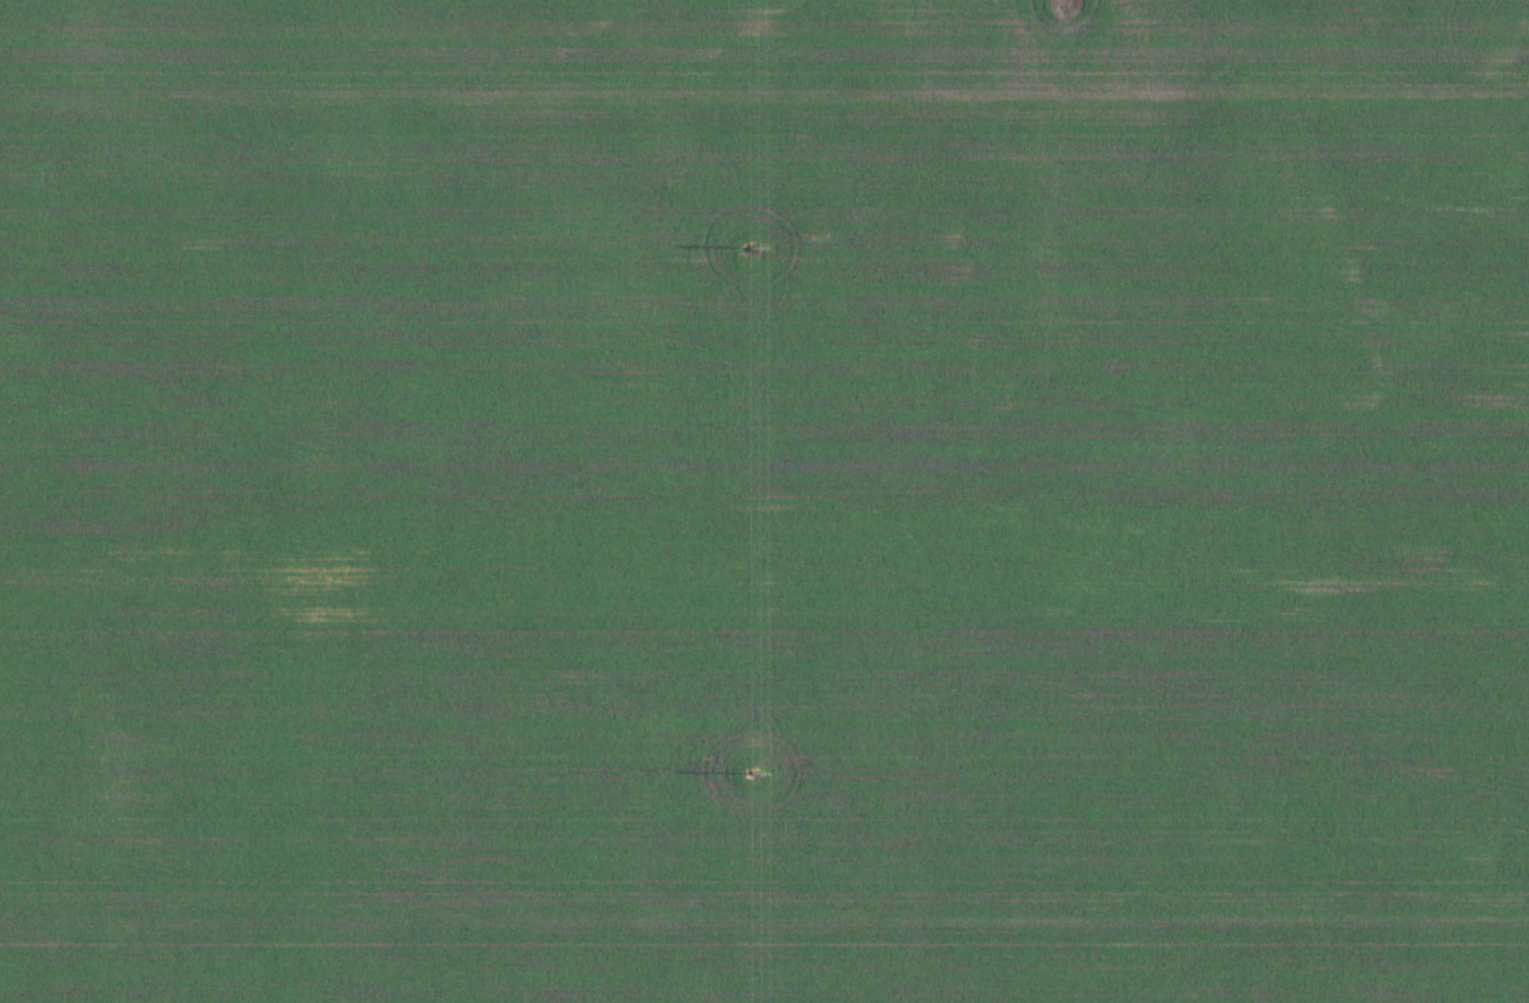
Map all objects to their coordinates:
power tower: (746, 247)
power tower: (751, 774)

